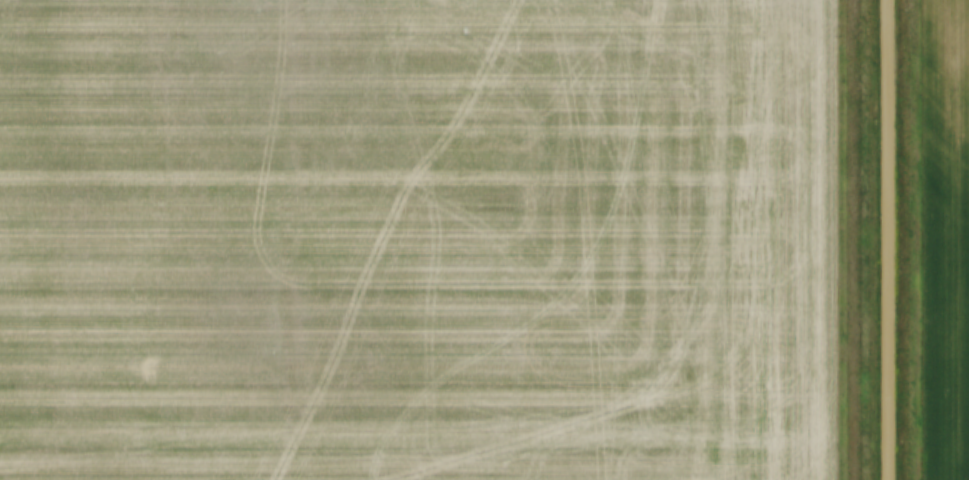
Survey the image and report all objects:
road: (891, 240)

